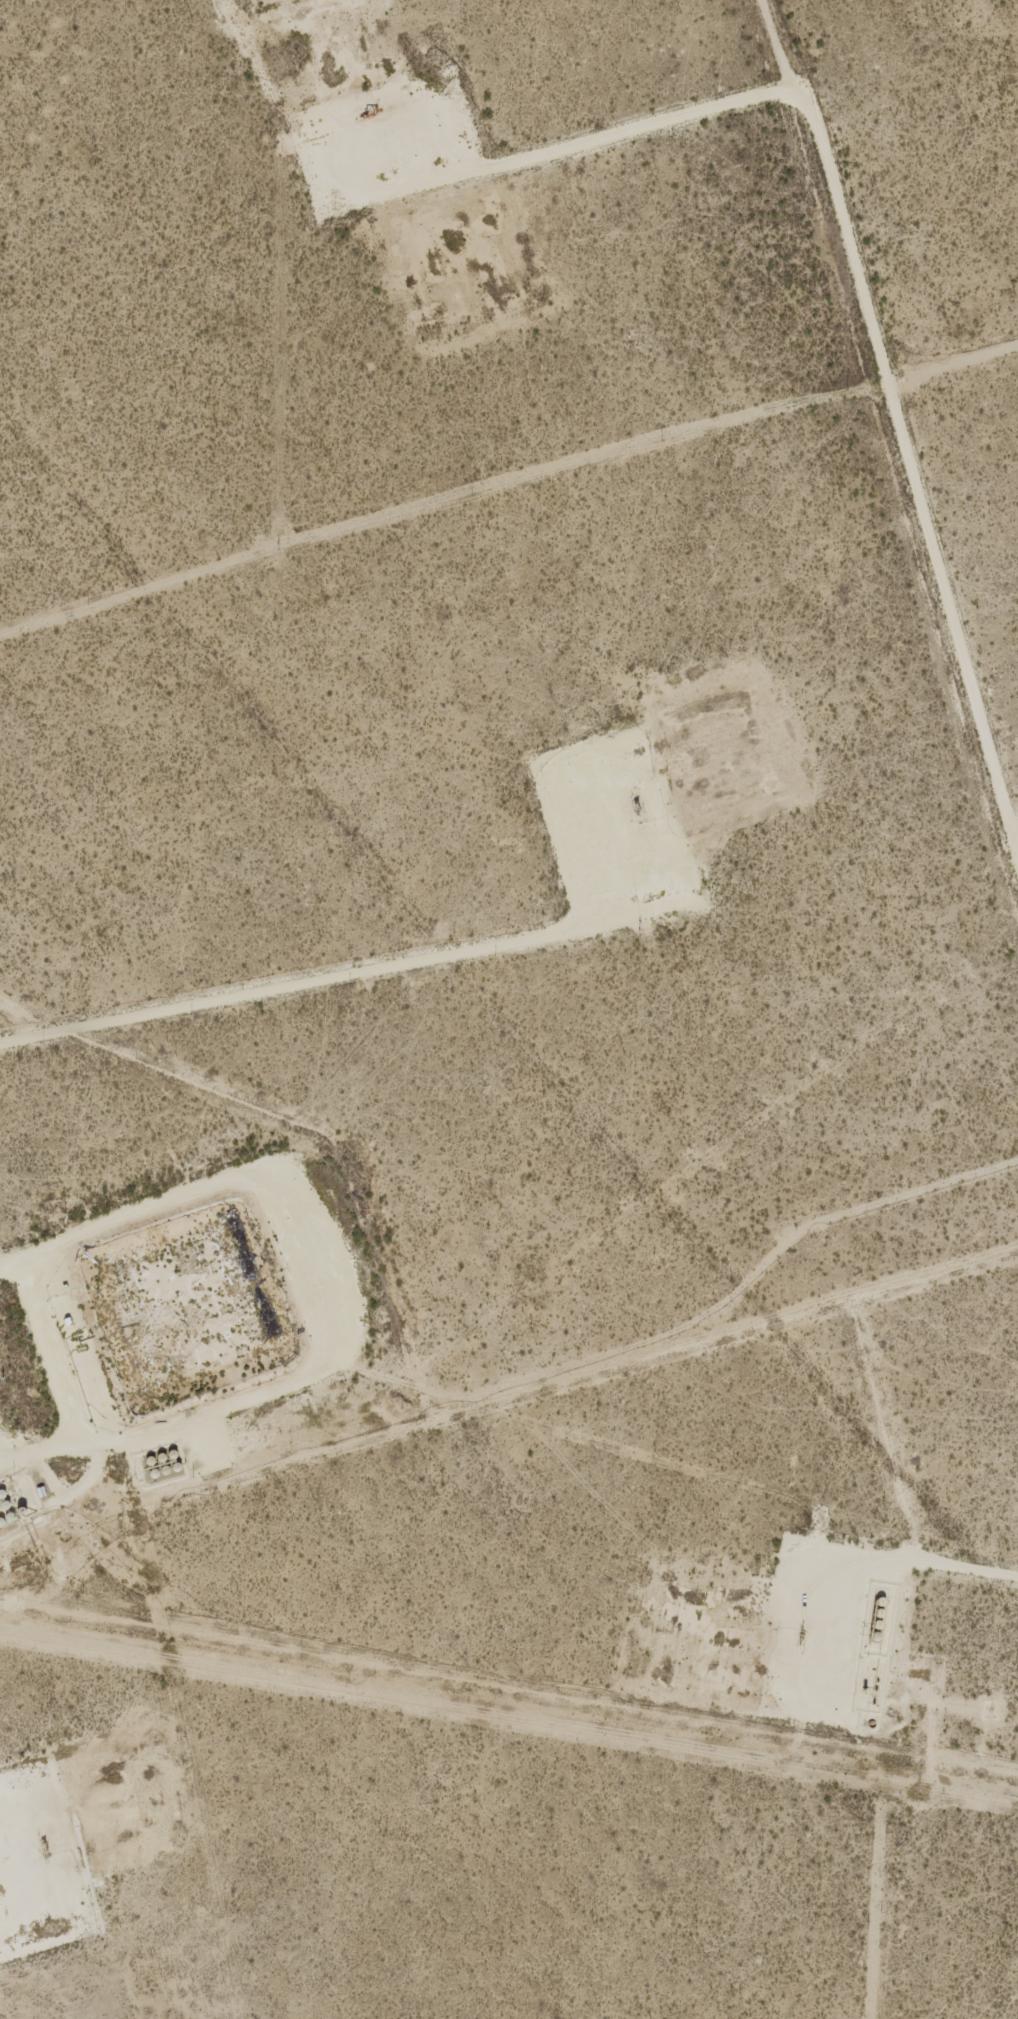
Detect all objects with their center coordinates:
petroleum well: (357, 103)
road: (839, 251)
petroleum well: (646, 807)
petroleum well: (37, 1850)

